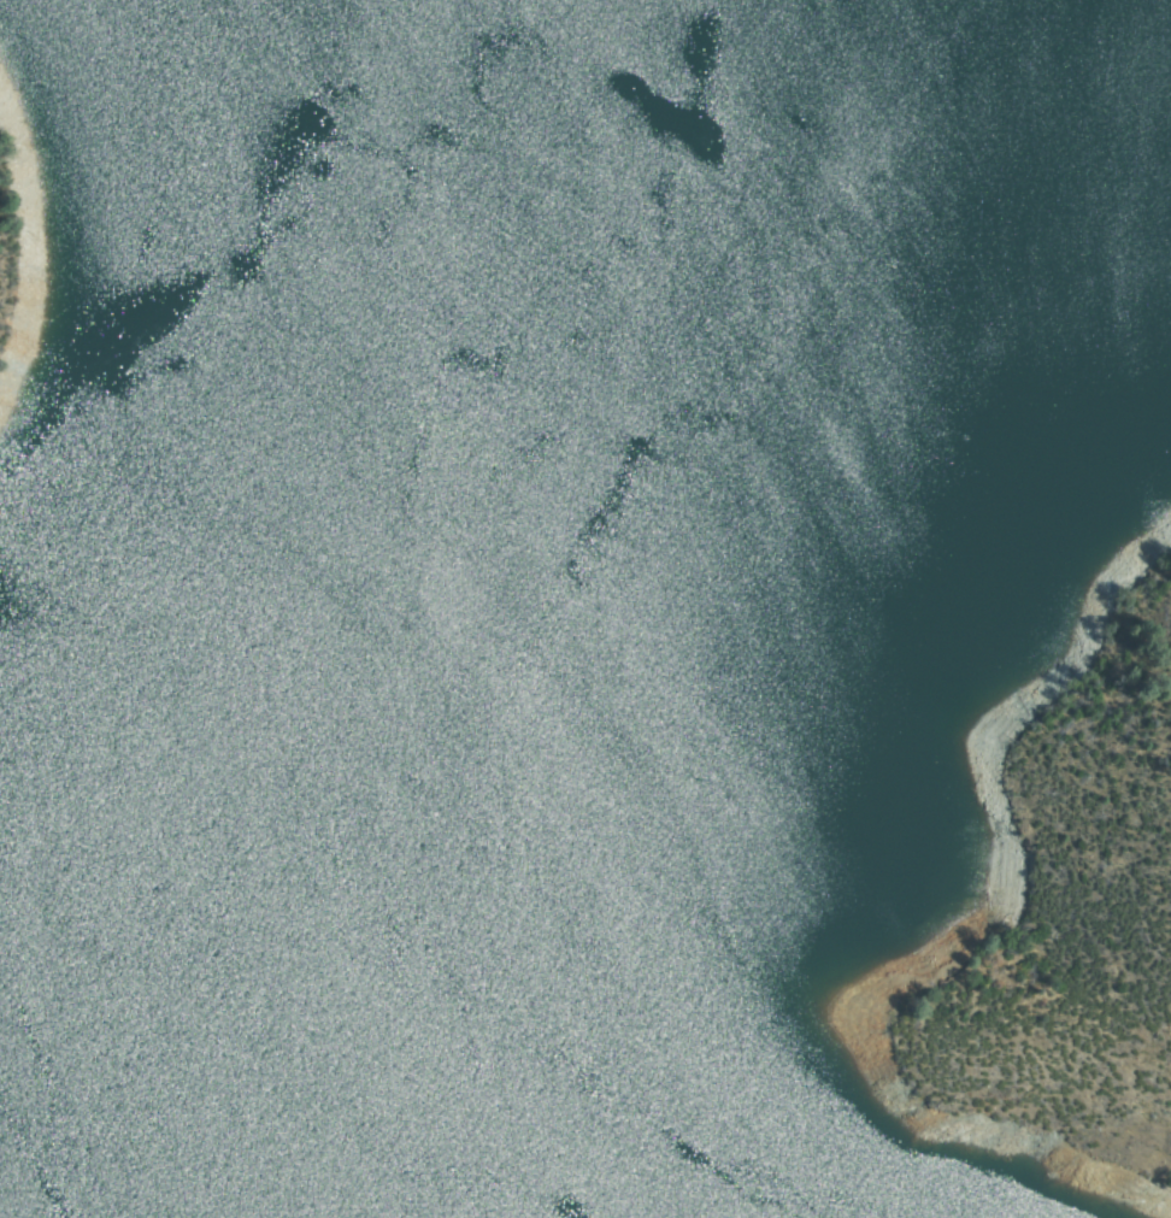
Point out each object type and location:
river: (443, 578)

